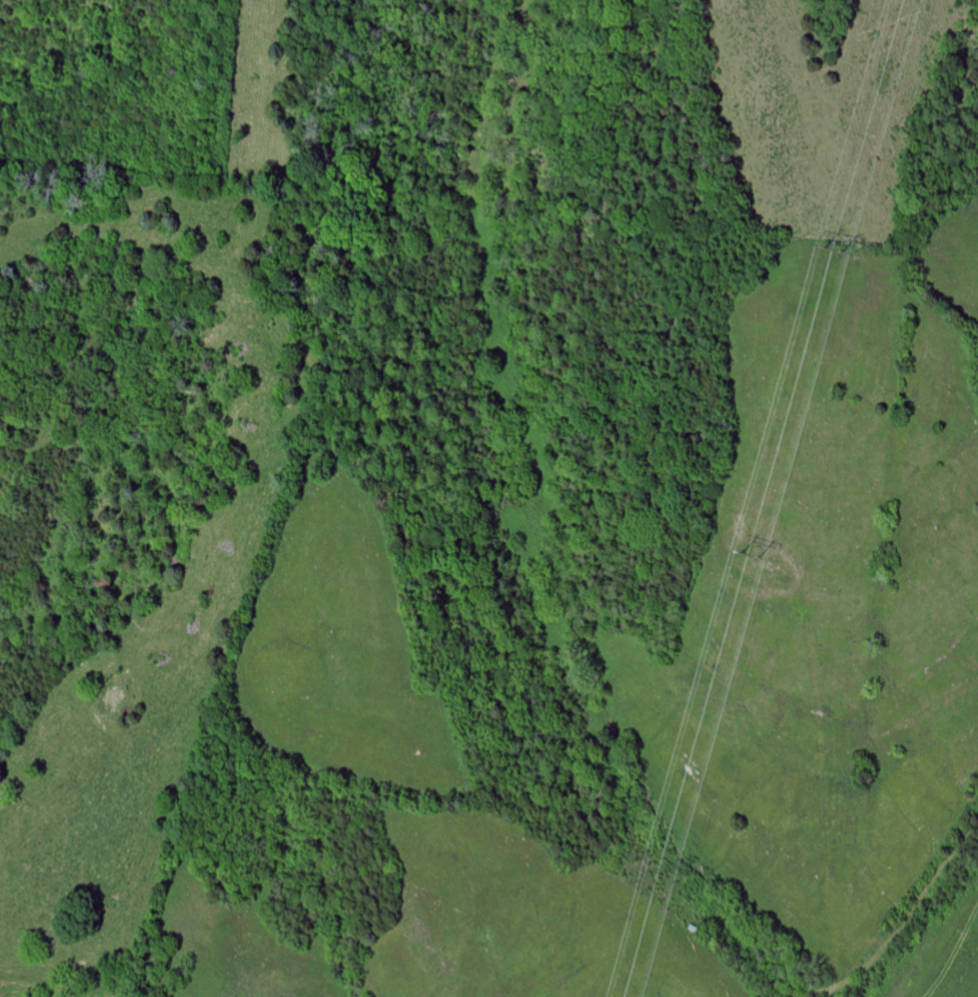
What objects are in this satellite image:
power tower: (833, 247)
power tower: (752, 554)

